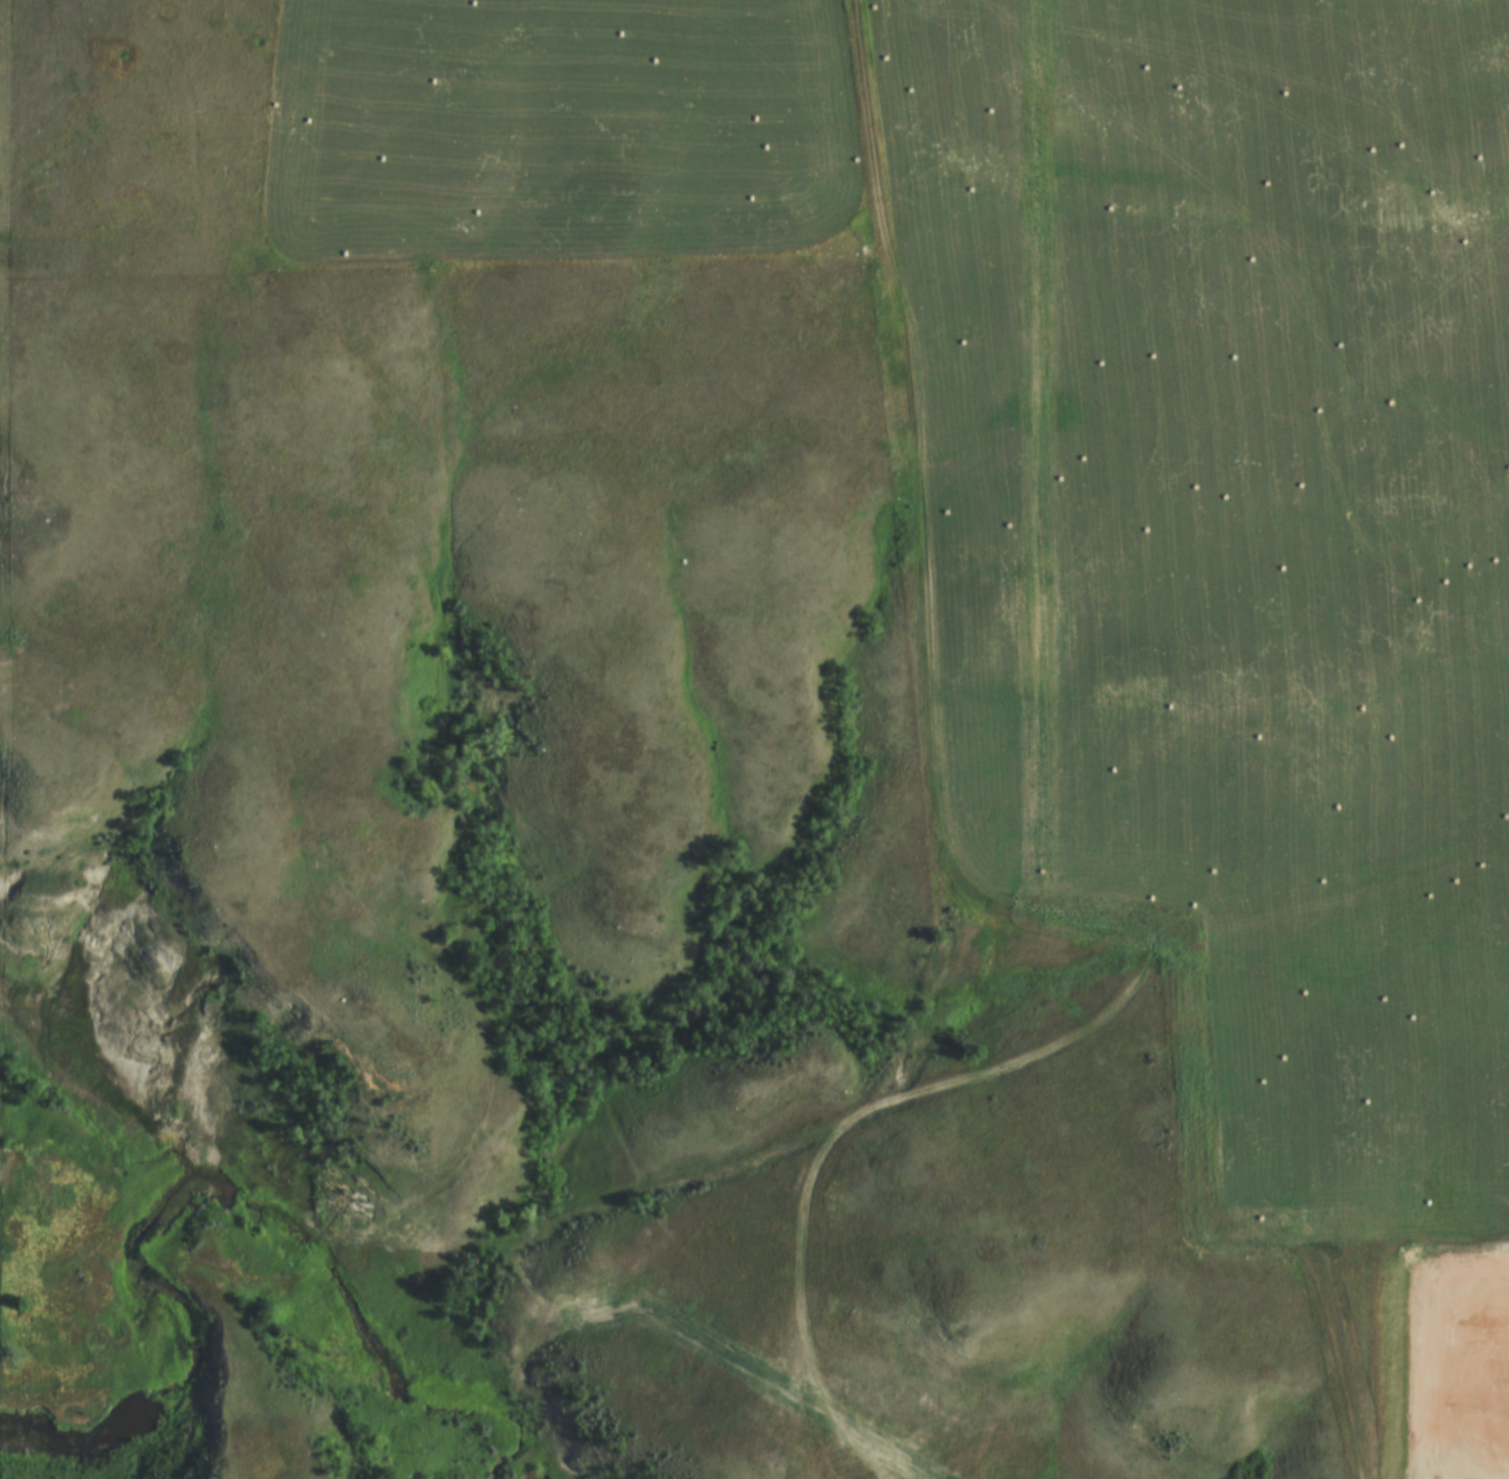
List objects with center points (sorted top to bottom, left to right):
road: (1471, 1423)

